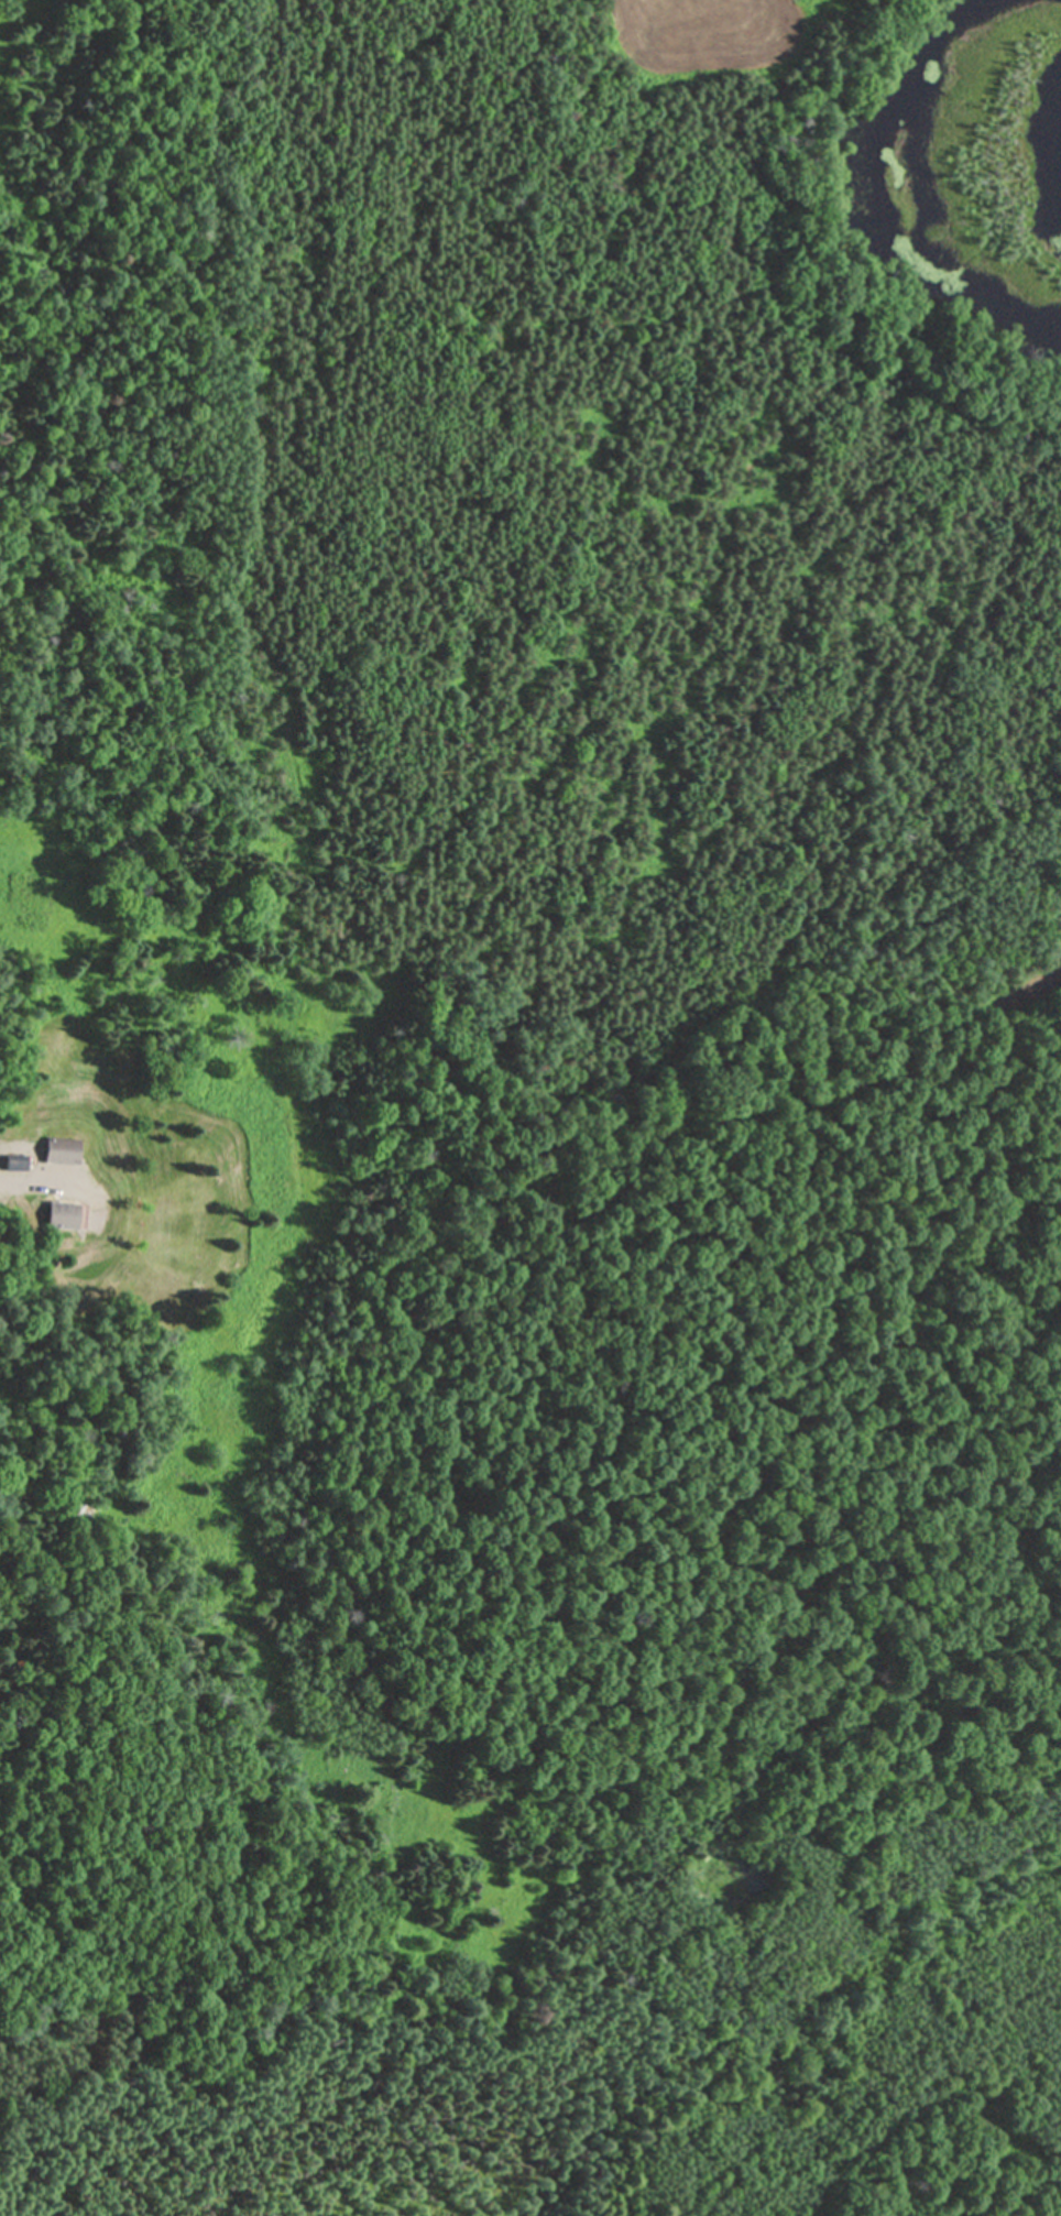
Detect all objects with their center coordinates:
building: (63, 1148)
building: (17, 1161)
building: (64, 1212)

